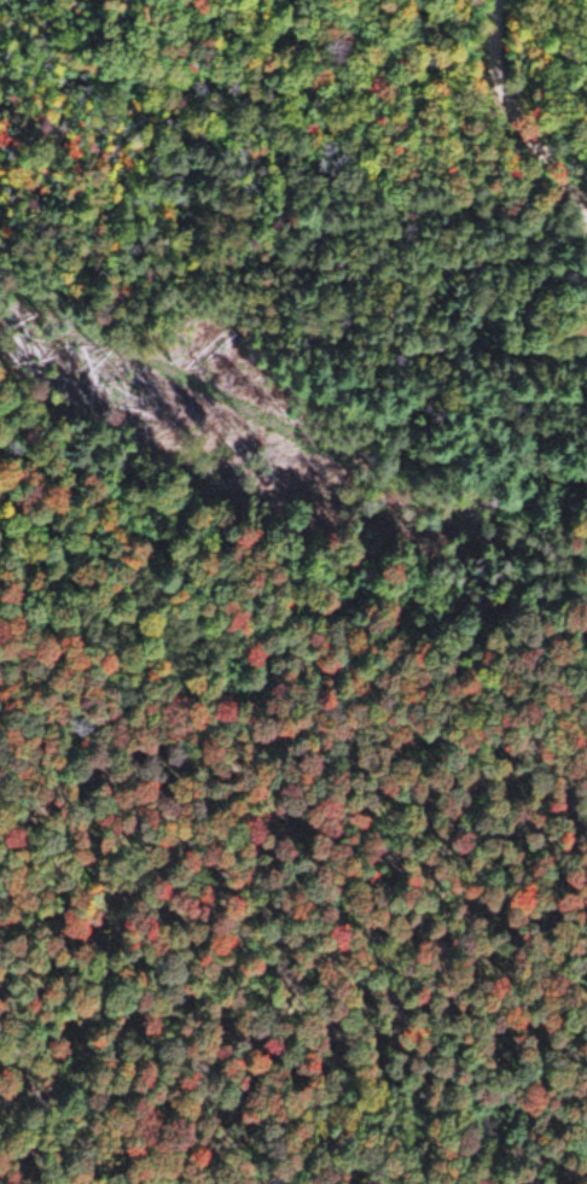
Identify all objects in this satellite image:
road: (286, 340)

